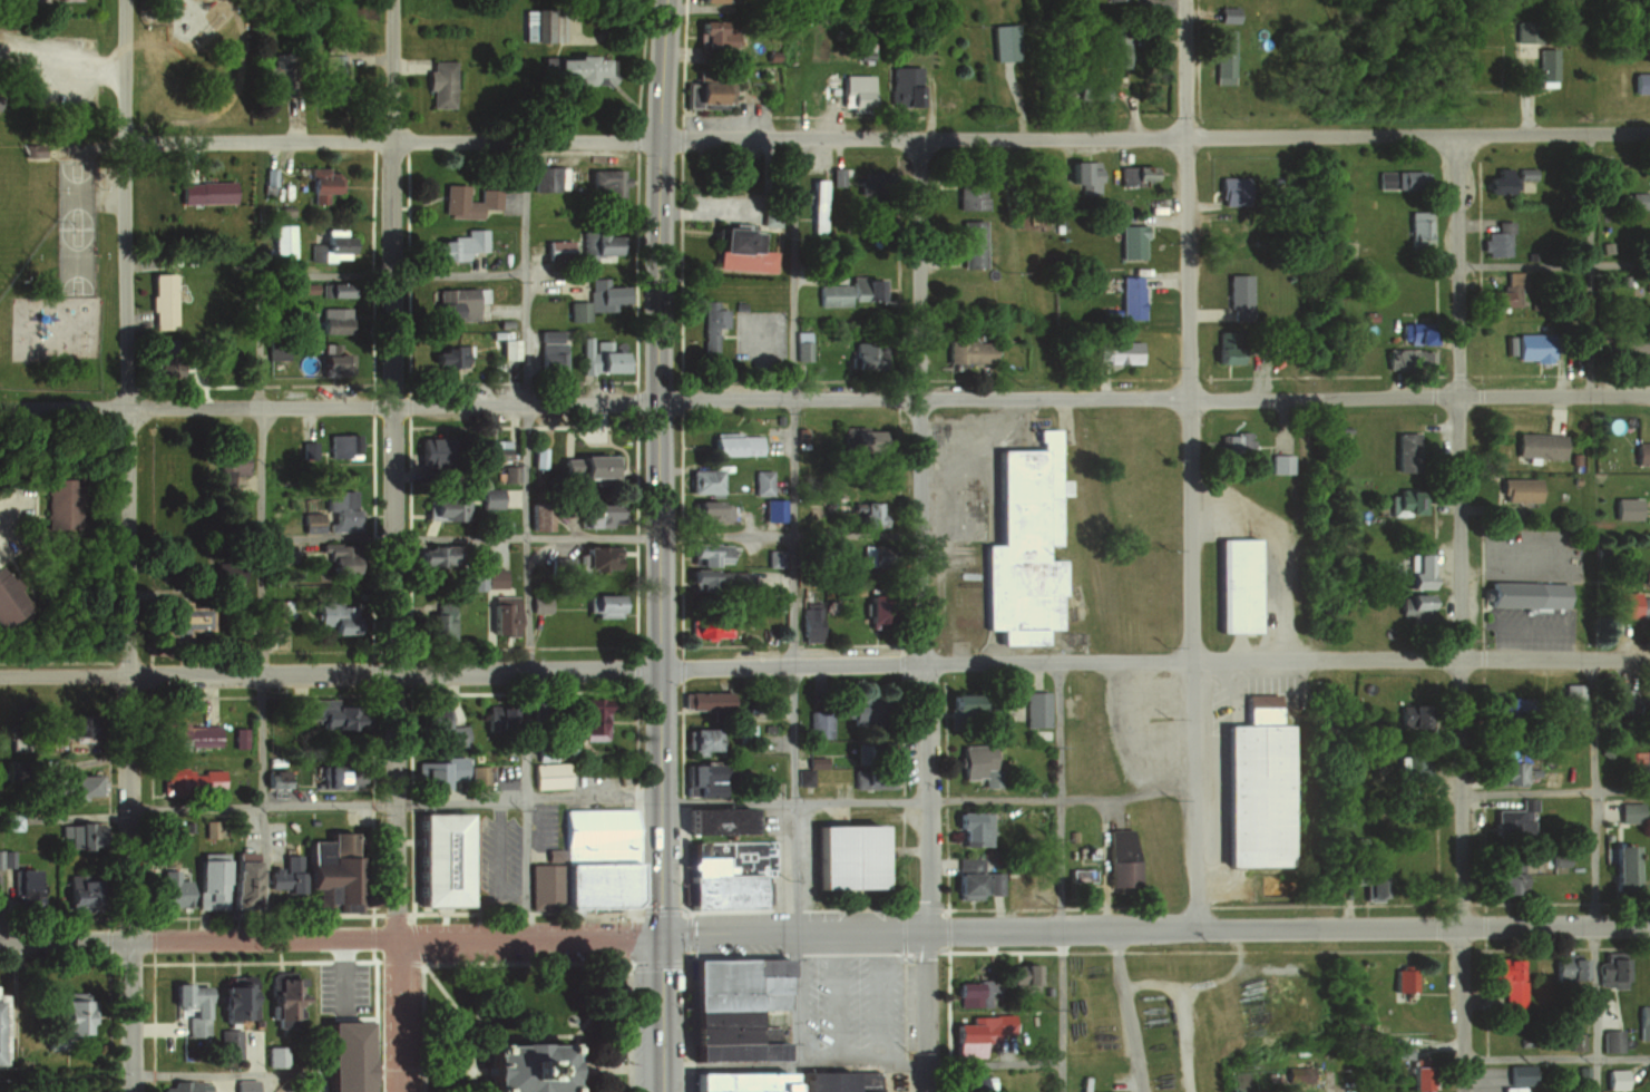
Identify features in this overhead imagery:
building: (1117, 0)
building: (1226, 14)
building: (712, 32)
building: (1114, 50)
building: (1222, 56)
building: (1545, 66)
building: (578, 69)
building: (332, 74)
building: (272, 75)
building: (1639, 81)
building: (439, 85)
building: (709, 85)
building: (901, 85)
building: (1092, 89)
building: (855, 90)
building: (0, 98)
road: (1153, 138)
road: (393, 142)
building: (35, 152)
building: (1078, 169)
building: (1130, 173)
building: (833, 174)
building: (545, 177)
building: (607, 178)
building: (1402, 178)
building: (1496, 179)
building: (320, 183)
building: (1232, 188)
building: (203, 192)
building: (968, 192)
building: (1634, 199)
building: (466, 201)
building: (812, 203)
park: (58, 208)
road: (702, 211)
road: (1170, 215)
building: (1287, 224)
park: (75, 228)
building: (1416, 228)
building: (1229, 231)
building: (1496, 240)
building: (280, 241)
building: (1130, 241)
building: (325, 243)
building: (452, 244)
building: (593, 244)
building: (969, 244)
building: (554, 248)
building: (733, 248)
road: (1591, 265)
road: (1552, 266)
road: (791, 267)
road: (525, 270)
road: (808, 273)
road: (1171, 277)
road: (549, 283)
building: (305, 286)
building: (334, 289)
building: (846, 290)
building: (1505, 293)
building: (1129, 294)
building: (1236, 295)
building: (594, 299)
building: (159, 301)
building: (453, 302)
building: (734, 304)
road: (509, 309)
road: (1203, 311)
building: (330, 316)
building: (706, 322)
building: (1414, 331)
road: (657, 333)
parking lot: (755, 334)
building: (599, 342)
building: (1224, 342)
building: (508, 343)
building: (799, 344)
building: (1531, 347)
building: (966, 348)
building: (546, 349)
building: (1115, 349)
building: (868, 351)
building: (447, 354)
building: (330, 358)
building: (597, 358)
building: (1407, 358)
road: (197, 381)
road: (1262, 381)
road: (1153, 398)
road: (329, 404)
building: (859, 438)
building: (730, 443)
building: (1232, 443)
building: (1536, 445)
building: (338, 448)
building: (306, 449)
building: (426, 450)
building: (487, 450)
building: (1405, 452)
building: (1640, 452)
building: (230, 462)
building: (1279, 462)
road: (1192, 464)
building: (584, 465)
building: (508, 474)
road: (260, 480)
building: (701, 480)
building: (759, 481)
building: (1515, 489)
building: (488, 497)
building: (1402, 503)
building: (59, 504)
building: (441, 507)
building: (771, 509)
building: (335, 510)
building: (709, 511)
building: (594, 514)
building: (865, 514)
road: (953, 517)
road: (6, 526)
road: (789, 530)
road: (525, 534)
road: (523, 535)
road: (127, 545)
building: (1024, 545)
road: (392, 546)
road: (1275, 552)
parking lot: (1529, 552)
building: (706, 553)
building: (430, 556)
building: (597, 556)
building: (334, 557)
building: (773, 558)
building: (228, 571)
building: (1415, 571)
building: (482, 576)
building: (716, 579)
building: (1237, 585)
building: (1523, 591)
building: (8, 601)
building: (1410, 604)
building: (603, 605)
building: (1628, 605)
building: (872, 607)
building: (275, 610)
building: (498, 614)
road: (1457, 614)
road: (922, 615)
building: (331, 616)
building: (175, 620)
building: (437, 621)
building: (810, 622)
building: (1525, 624)
building: (707, 625)
road: (1154, 663)
road: (330, 671)
building: (1622, 693)
building: (1571, 695)
building: (1649, 696)
building: (702, 699)
building: (956, 702)
building: (1035, 708)
building: (1505, 708)
building: (858, 709)
building: (325, 713)
building: (1409, 714)
building: (588, 718)
parking lot: (1145, 722)
building: (494, 723)
building: (818, 723)
building: (67, 727)
building: (436, 727)
building: (743, 732)
building: (184, 734)
building: (697, 741)
road: (794, 744)
building: (876, 749)
building: (1634, 758)
building: (1647, 758)
building: (969, 759)
building: (1413, 762)
building: (546, 769)
building: (435, 771)
building: (1506, 771)
building: (335, 776)
building: (869, 778)
building: (189, 779)
building: (274, 779)
building: (704, 779)
building: (71, 787)
building: (1254, 788)
road: (1555, 789)
road: (525, 800)
road: (928, 801)
building: (1525, 801)
road: (525, 802)
road: (261, 806)
building: (1628, 809)
building: (707, 818)
building: (1506, 819)
parking lot: (544, 825)
building: (209, 829)
building: (973, 829)
building: (76, 835)
parking lot: (497, 854)
building: (433, 857)
building: (3, 859)
building: (583, 859)
building: (843, 859)
building: (1537, 859)
building: (1117, 860)
building: (1620, 865)
building: (316, 872)
road: (1593, 875)
building: (240, 877)
road: (1061, 877)
building: (965, 878)
building: (1367, 879)
building: (1504, 879)
building: (206, 880)
road: (660, 880)
building: (993, 884)
building: (713, 885)
building: (23, 887)
building: (170, 887)
building: (74, 891)
road: (412, 924)
road: (1154, 928)
road: (329, 938)
road: (265, 962)
road: (527, 963)
building: (1572, 967)
building: (1609, 971)
road: (341, 972)
building: (1018, 978)
building: (1506, 979)
parking lot: (341, 982)
building: (1403, 982)
building: (967, 993)
building: (276, 998)
road: (476, 998)
building: (227, 1001)
parking lot: (856, 1002)
building: (726, 1003)
building: (189, 1006)
road: (1130, 1011)
building: (62, 1018)
building: (1642, 1022)
road: (468, 1023)
road: (578, 1024)
building: (3, 1027)
road: (524, 1030)
building: (975, 1032)
building: (1610, 1040)
building: (1574, 1041)
building: (226, 1043)
building: (340, 1055)
building: (275, 1056)
road: (1556, 1056)
building: (521, 1062)
road: (861, 1065)
road: (608, 1066)
road: (448, 1071)
road: (410, 1073)
building: (1296, 1073)
road: (213, 1075)
building: (1519, 1075)
building: (1613, 1076)
building: (1415, 1078)
building: (730, 1081)
building: (822, 1081)
building: (968, 1083)
building: (243, 1085)
building: (183, 1086)
building: (37, 1089)
parking lot: (294, 1089)
road: (1330, 1090)

